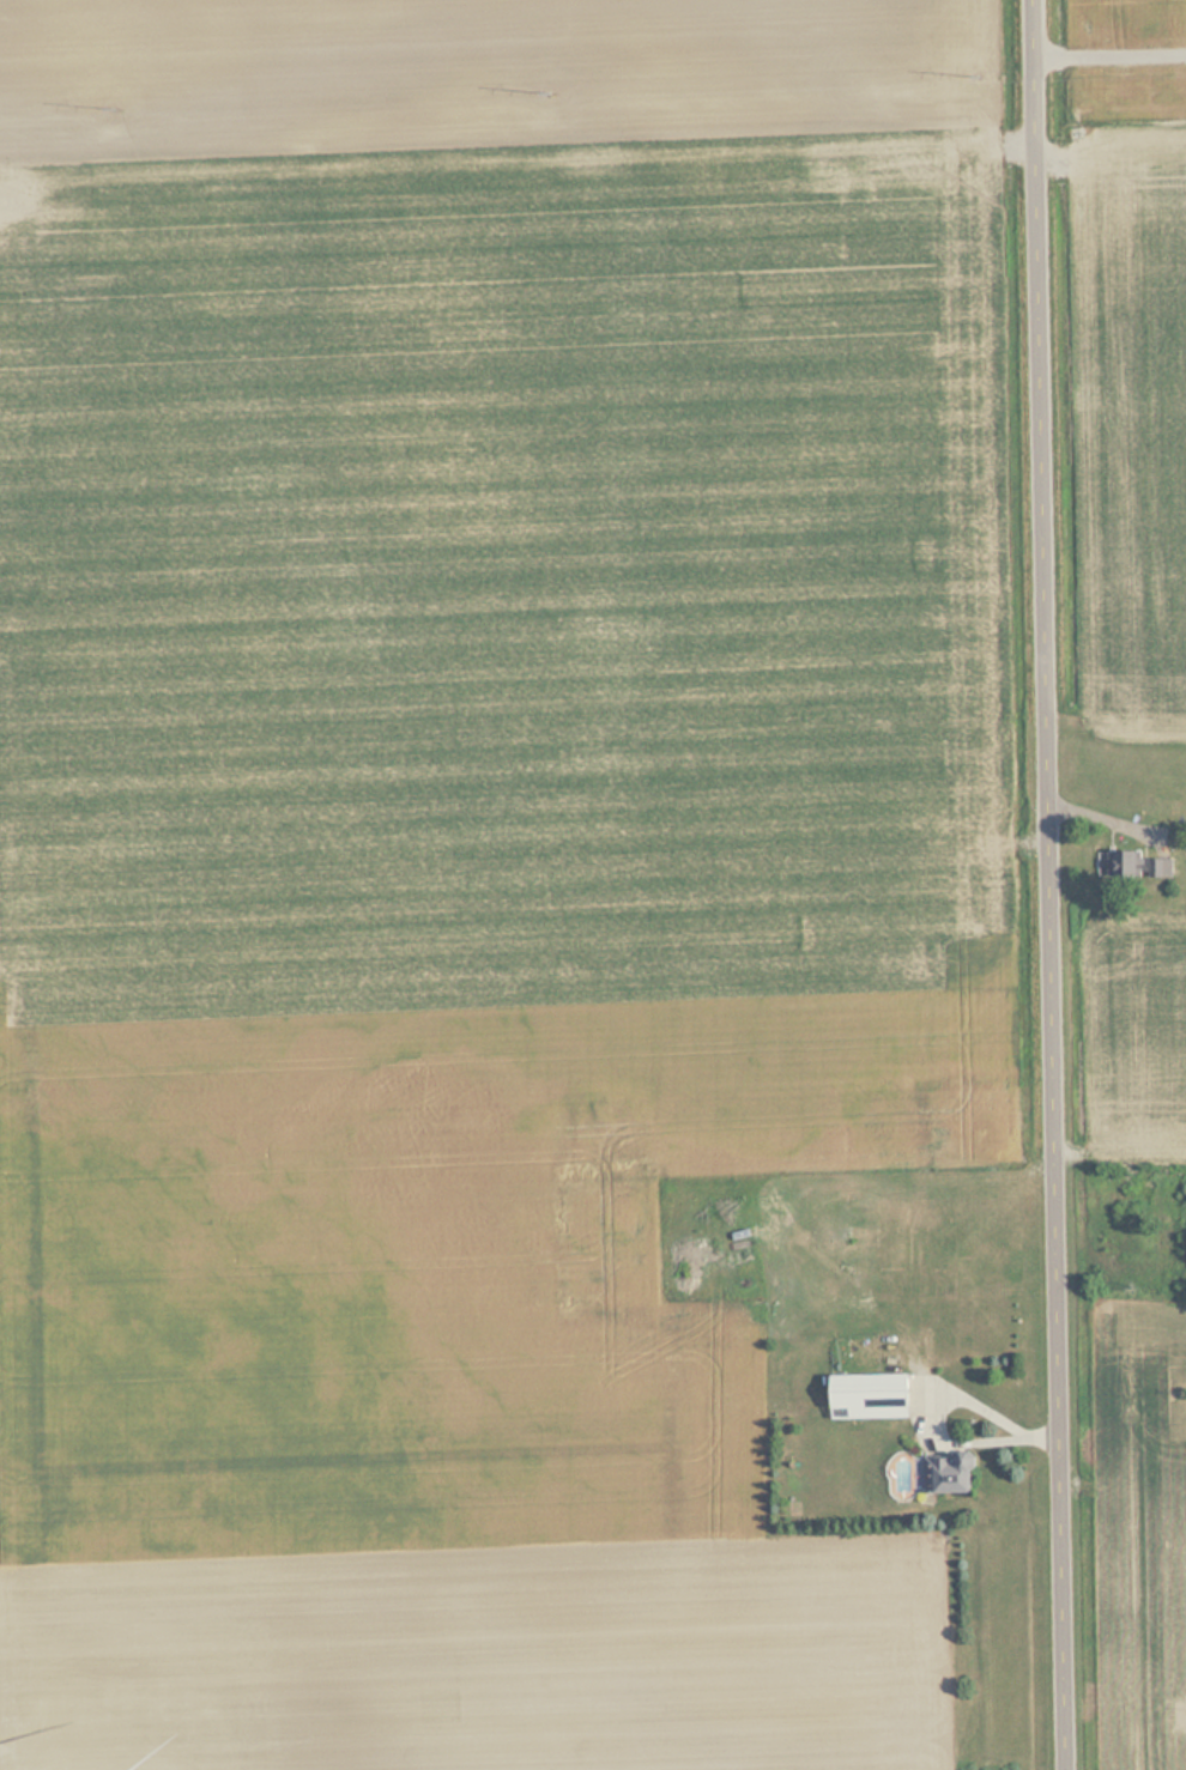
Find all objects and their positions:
building: (1137, 863)
road: (1055, 885)
building: (876, 1395)
building: (955, 1475)

